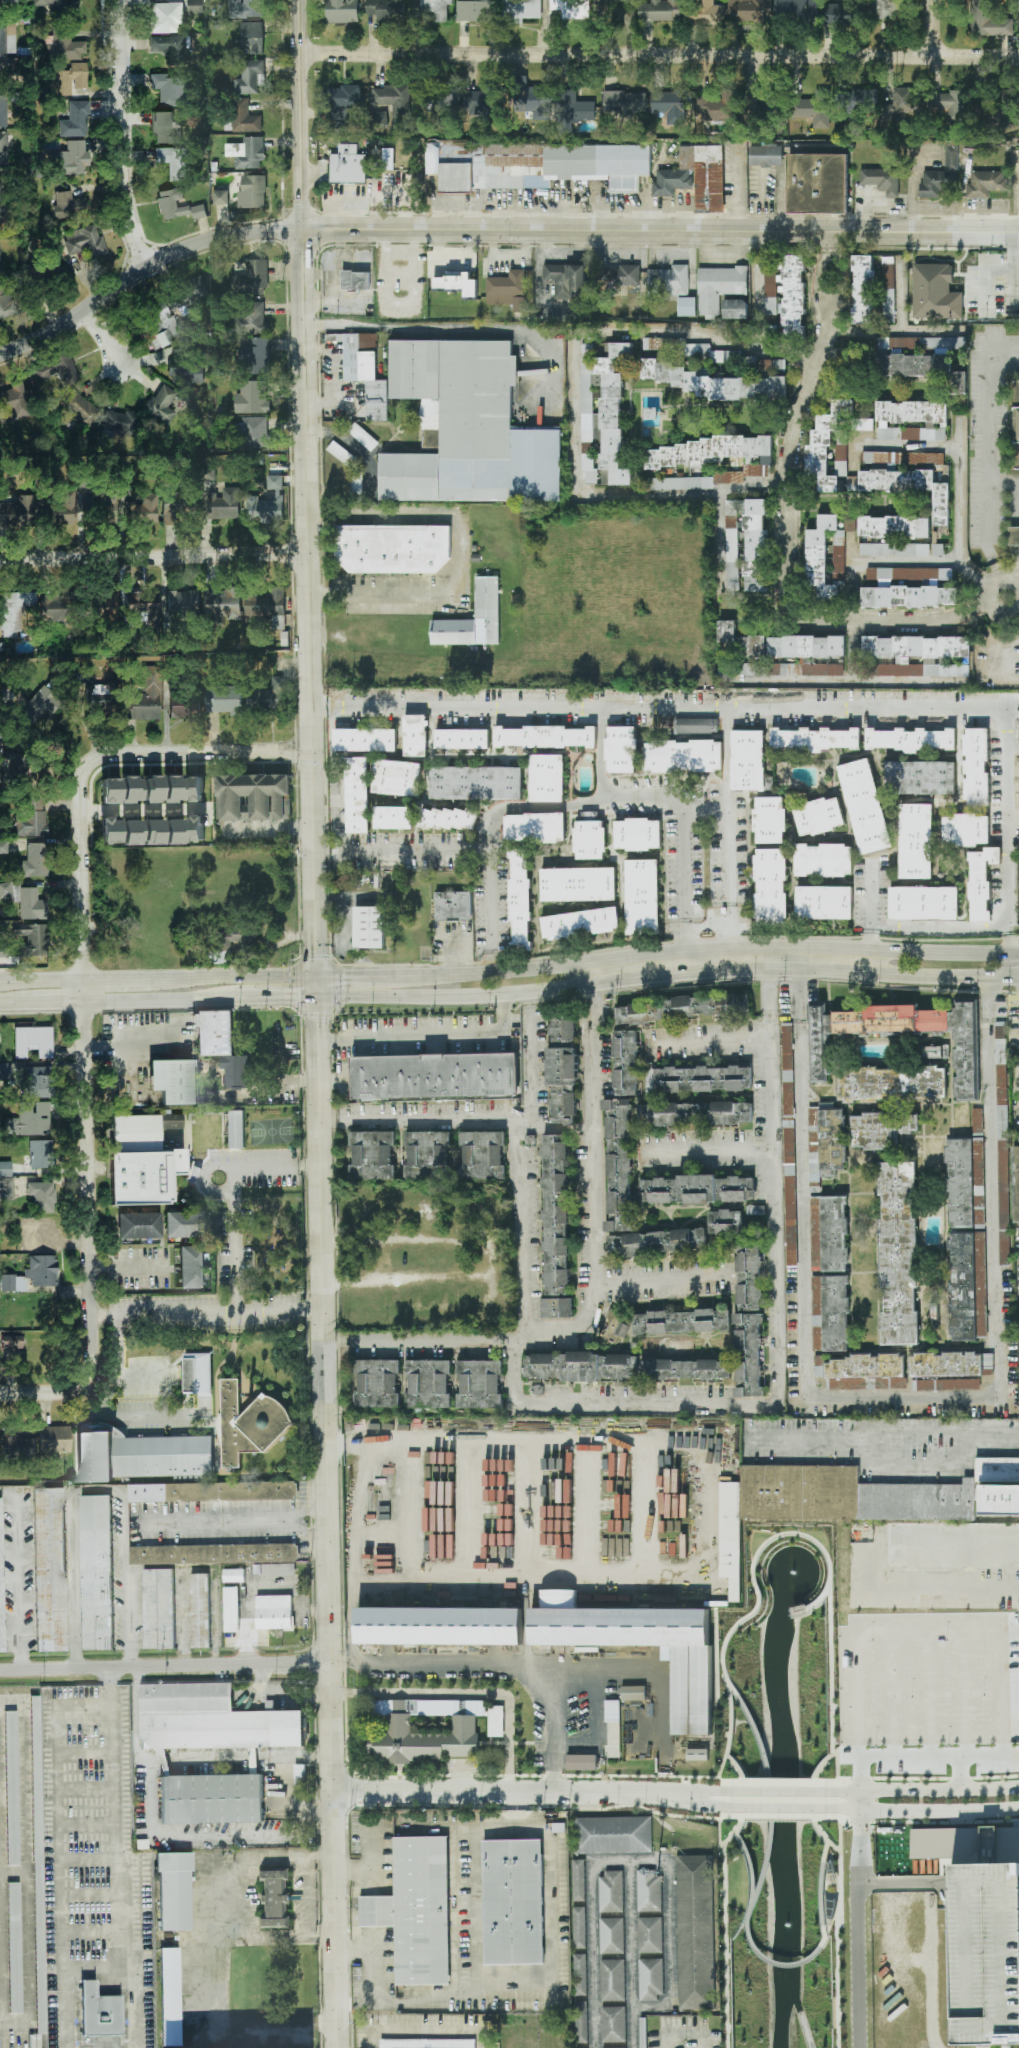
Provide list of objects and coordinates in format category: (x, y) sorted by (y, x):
building: (9, 1)
building: (51, 4)
building: (196, 6)
building: (571, 8)
building: (247, 9)
building: (433, 9)
building: (796, 9)
building: (887, 9)
building: (385, 10)
building: (520, 10)
building: (660, 10)
building: (749, 10)
building: (343, 11)
building: (477, 11)
building: (705, 13)
building: (839, 14)
building: (166, 17)
building: (988, 21)
road: (930, 28)
building: (7, 37)
building: (251, 38)
building: (62, 46)
building: (171, 47)
road: (659, 56)
building: (71, 76)
building: (249, 77)
building: (171, 87)
building: (441, 95)
building: (394, 98)
building: (859, 99)
building: (345, 100)
building: (906, 101)
building: (482, 102)
building: (625, 102)
building: (533, 103)
building: (995, 103)
building: (670, 106)
building: (759, 106)
building: (954, 106)
building: (718, 107)
building: (816, 109)
building: (3, 110)
building: (572, 110)
road: (301, 115)
building: (244, 117)
building: (381, 119)
building: (74, 120)
building: (166, 128)
road: (121, 134)
building: (3, 147)
building: (248, 153)
building: (765, 156)
building: (70, 157)
building: (983, 159)
building: (176, 161)
building: (534, 165)
building: (348, 166)
building: (941, 178)
building: (695, 179)
building: (881, 180)
building: (816, 183)
building: (986, 183)
building: (252, 191)
road: (736, 194)
building: (221, 197)
road: (779, 204)
building: (68, 205)
road: (877, 206)
building: (173, 208)
building: (4, 216)
road: (661, 235)
building: (83, 241)
building: (0, 262)
road: (142, 269)
road: (1014, 271)
building: (252, 274)
road: (986, 274)
building: (566, 280)
road: (821, 280)
building: (668, 281)
building: (354, 282)
building: (457, 283)
building: (719, 288)
building: (888, 289)
building: (863, 290)
building: (936, 292)
building: (787, 294)
building: (188, 296)
building: (5, 302)
road: (401, 303)
building: (686, 306)
building: (735, 309)
building: (250, 319)
building: (159, 321)
road: (465, 329)
road: (897, 330)
road: (104, 338)
building: (255, 355)
building: (917, 355)
building: (771, 365)
building: (56, 369)
building: (185, 371)
road: (1003, 372)
building: (366, 374)
road: (335, 375)
building: (958, 382)
building: (714, 383)
road: (573, 388)
road: (306, 396)
building: (252, 398)
building: (13, 403)
building: (160, 404)
building: (602, 414)
building: (649, 414)
building: (912, 420)
building: (120, 421)
building: (1016, 421)
building: (862, 424)
building: (465, 429)
building: (252, 433)
road: (892, 445)
building: (829, 448)
road: (987, 448)
building: (343, 455)
building: (710, 457)
building: (127, 475)
building: (908, 479)
road: (1003, 482)
building: (356, 483)
building: (679, 483)
road: (958, 487)
building: (267, 503)
building: (107, 504)
building: (224, 505)
building: (177, 506)
building: (143, 509)
building: (16, 510)
road: (787, 518)
building: (894, 527)
building: (1013, 537)
building: (752, 541)
building: (393, 549)
building: (894, 549)
road: (723, 554)
building: (732, 555)
road: (852, 556)
building: (825, 557)
road: (905, 560)
road: (277, 562)
road: (122, 563)
road: (1016, 572)
road: (972, 573)
building: (909, 588)
road: (380, 591)
road: (986, 598)
building: (183, 602)
building: (144, 604)
building: (225, 604)
building: (262, 604)
building: (98, 605)
building: (58, 608)
building: (13, 611)
building: (472, 619)
building: (280, 628)
building: (742, 640)
building: (806, 647)
road: (856, 652)
building: (917, 656)
road: (311, 658)
building: (752, 669)
building: (804, 669)
road: (830, 681)
building: (267, 695)
building: (99, 698)
building: (225, 699)
building: (144, 700)
building: (184, 706)
road: (782, 706)
building: (38, 707)
building: (697, 726)
building: (416, 735)
building: (545, 737)
building: (462, 739)
building: (816, 739)
building: (911, 739)
building: (365, 740)
building: (621, 750)
building: (683, 756)
road: (190, 757)
building: (749, 762)
building: (976, 767)
building: (921, 777)
building: (401, 778)
building: (547, 778)
building: (476, 783)
building: (358, 786)
building: (152, 789)
road: (607, 791)
building: (253, 797)
road: (314, 804)
building: (865, 806)
road: (533, 807)
road: (146, 810)
building: (31, 816)
building: (820, 816)
building: (393, 818)
road: (704, 818)
building: (448, 819)
building: (770, 820)
building: (535, 827)
building: (183, 830)
building: (966, 830)
building: (132, 831)
building: (638, 834)
building: (590, 840)
building: (915, 841)
building: (3, 846)
road: (404, 853)
building: (35, 860)
building: (824, 860)
building: (981, 882)
building: (578, 884)
building: (771, 886)
building: (642, 896)
building: (24, 899)
building: (520, 900)
building: (824, 902)
building: (924, 903)
building: (453, 906)
road: (493, 912)
road: (871, 912)
building: (580, 923)
building: (369, 927)
building: (31, 939)
building: (231, 944)
traffic signals: (317, 951)
road: (943, 952)
road: (732, 958)
road: (494, 972)
traffic signals: (346, 977)
road: (354, 977)
road: (234, 978)
road: (117, 979)
road: (942, 979)
road: (41, 980)
road: (459, 996)
road: (160, 1001)
road: (277, 1001)
traffic signals: (295, 1001)
road: (58, 1002)
road: (16, 1003)
building: (682, 1008)
traffic signals: (318, 1019)
building: (867, 1027)
building: (562, 1031)
building: (215, 1032)
road: (428, 1036)
building: (32, 1041)
road: (709, 1041)
building: (931, 1052)
building: (965, 1053)
building: (625, 1063)
building: (4, 1070)
road: (85, 1070)
building: (235, 1071)
building: (432, 1076)
building: (698, 1079)
building: (172, 1080)
building: (37, 1081)
building: (892, 1083)
building: (563, 1085)
building: (695, 1113)
road: (457, 1115)
building: (29, 1119)
building: (171, 1121)
building: (977, 1121)
building: (236, 1129)
building: (881, 1129)
building: (825, 1143)
building: (1002, 1143)
building: (789, 1144)
road: (712, 1145)
building: (40, 1153)
building: (372, 1155)
building: (483, 1155)
building: (141, 1161)
road: (309, 1165)
building: (619, 1165)
building: (5, 1168)
building: (964, 1180)
building: (1016, 1182)
road: (995, 1188)
building: (699, 1189)
building: (41, 1196)
road: (235, 1202)
building: (755, 1210)
building: (555, 1215)
building: (725, 1222)
building: (185, 1224)
building: (138, 1225)
building: (829, 1234)
building: (39, 1236)
building: (657, 1243)
building: (898, 1253)
road: (492, 1260)
building: (192, 1267)
road: (666, 1268)
road: (811, 1268)
building: (32, 1274)
building: (748, 1278)
road: (594, 1286)
building: (967, 1286)
road: (312, 1308)
building: (557, 1308)
road: (203, 1311)
building: (830, 1313)
road: (100, 1314)
building: (681, 1322)
building: (616, 1325)
building: (11, 1341)
building: (748, 1355)
building: (950, 1364)
building: (579, 1366)
building: (685, 1370)
building: (864, 1372)
building: (197, 1373)
building: (377, 1383)
building: (429, 1384)
building: (480, 1384)
road: (87, 1385)
building: (946, 1385)
road: (111, 1392)
road: (59, 1394)
road: (96, 1394)
road: (731, 1400)
building: (250, 1424)
road: (883, 1432)
building: (54, 1438)
road: (413, 1444)
building: (16, 1445)
road: (326, 1451)
building: (141, 1456)
road: (916, 1464)
building: (510, 1489)
building: (213, 1491)
road: (8, 1492)
building: (859, 1494)
building: (998, 1501)
road: (661, 1508)
road: (593, 1509)
road: (283, 1521)
road: (533, 1521)
road: (213, 1522)
building: (730, 1537)
building: (221, 1556)
road: (443, 1563)
building: (49, 1569)
building: (96, 1572)
building: (233, 1575)
road: (75, 1578)
road: (18, 1580)
road: (258, 1585)
building: (1, 1587)
road: (470, 1599)
building: (158, 1609)
building: (230, 1609)
building: (199, 1611)
building: (273, 1612)
road: (749, 1613)
road: (132, 1620)
building: (436, 1626)
road: (348, 1663)
road: (165, 1666)
building: (690, 1689)
road: (466, 1692)
building: (211, 1720)
building: (495, 1722)
road: (554, 1730)
road: (726, 1734)
building: (422, 1743)
building: (613, 1743)
road: (915, 1753)
building: (697, 1754)
road: (190, 1759)
road: (723, 1766)
road: (837, 1767)
road: (958, 1771)
building: (299, 1776)
building: (11, 1787)
road: (922, 1790)
road: (512, 1792)
road: (778, 1792)
road: (710, 1794)
building: (211, 1800)
road: (710, 1802)
road: (778, 1806)
road: (922, 1809)
road: (467, 1820)
road: (733, 1833)
building: (612, 1835)
road: (188, 1838)
road: (826, 1840)
road: (60, 1853)
road: (35, 1857)
road: (115, 1858)
building: (37, 1859)
road: (748, 1863)
building: (173, 1890)
road: (239, 1894)
road: (310, 1897)
building: (275, 1899)
building: (512, 1902)
road: (371, 1905)
road: (820, 1909)
building: (416, 1912)
road: (858, 1928)
building: (695, 1933)
road: (724, 1933)
road: (931, 1934)
building: (649, 1935)
road: (839, 1937)
building: (14, 1946)
building: (988, 1952)
parking garage: (988, 1952)
building: (579, 1954)
building: (612, 1960)
road: (782, 1964)
road: (535, 1993)
building: (170, 1995)
building: (99, 2013)
road: (427, 2025)
building: (428, 2043)

